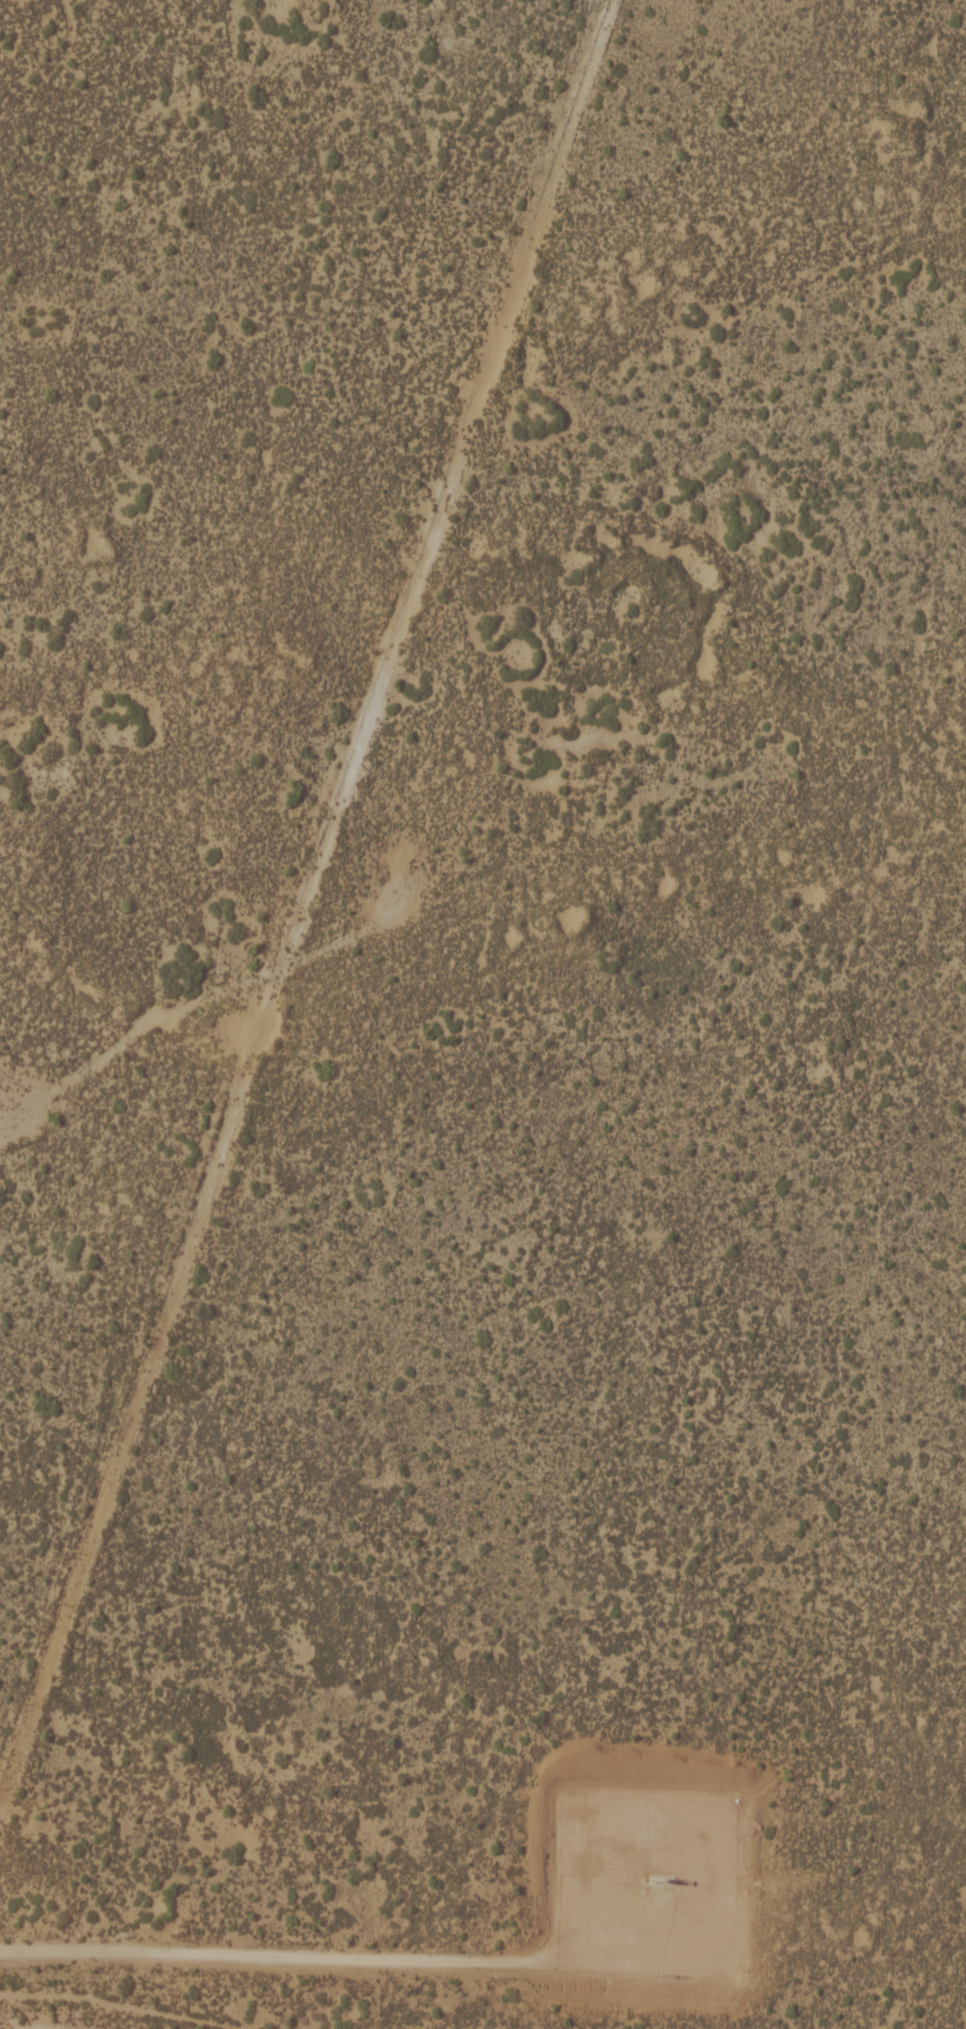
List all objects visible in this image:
petroleum well: (649, 1872)
road: (268, 1963)

